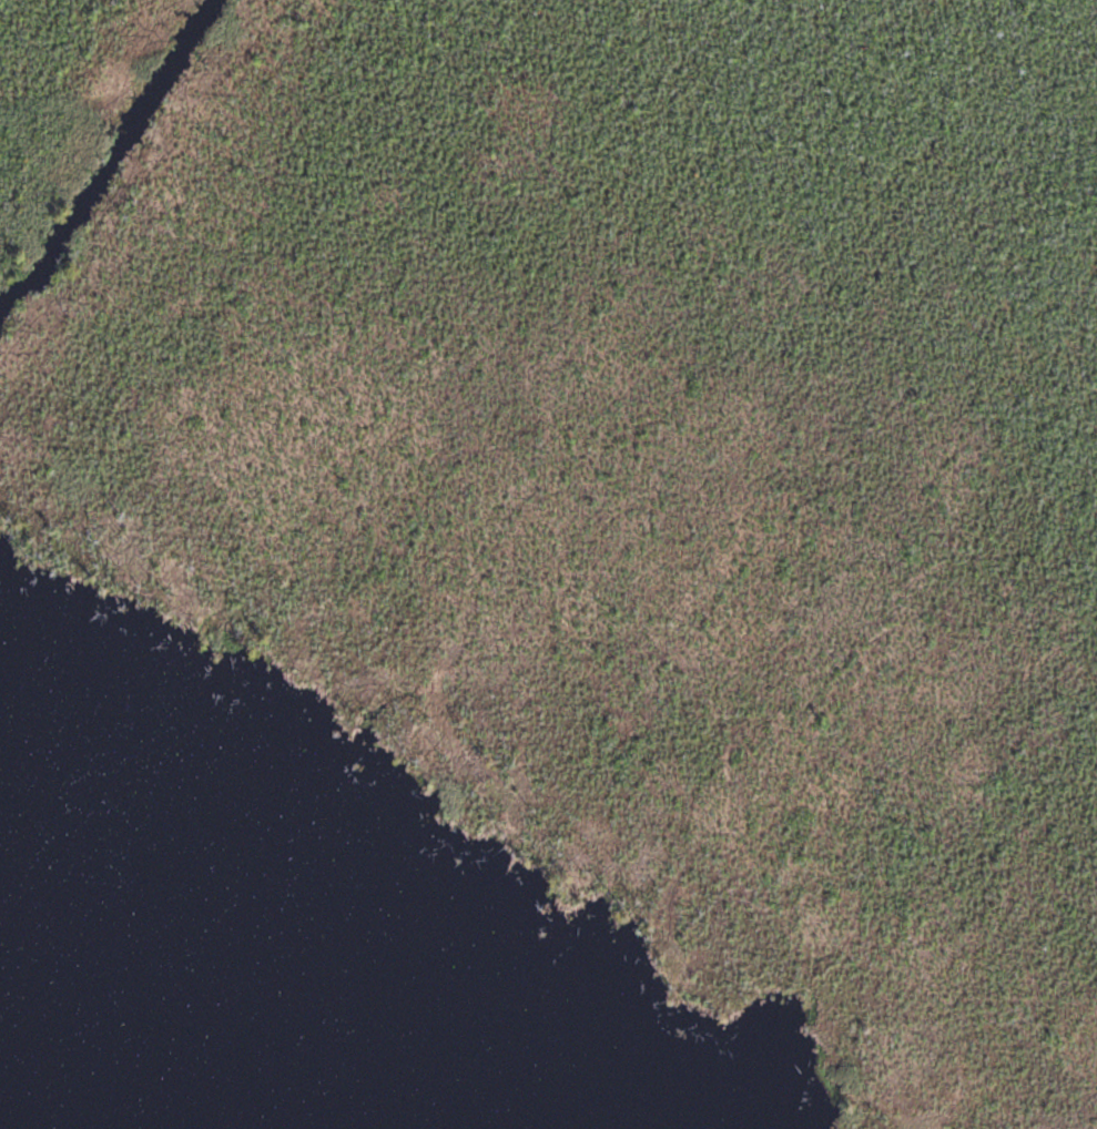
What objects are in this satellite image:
river: (108, 1000)

